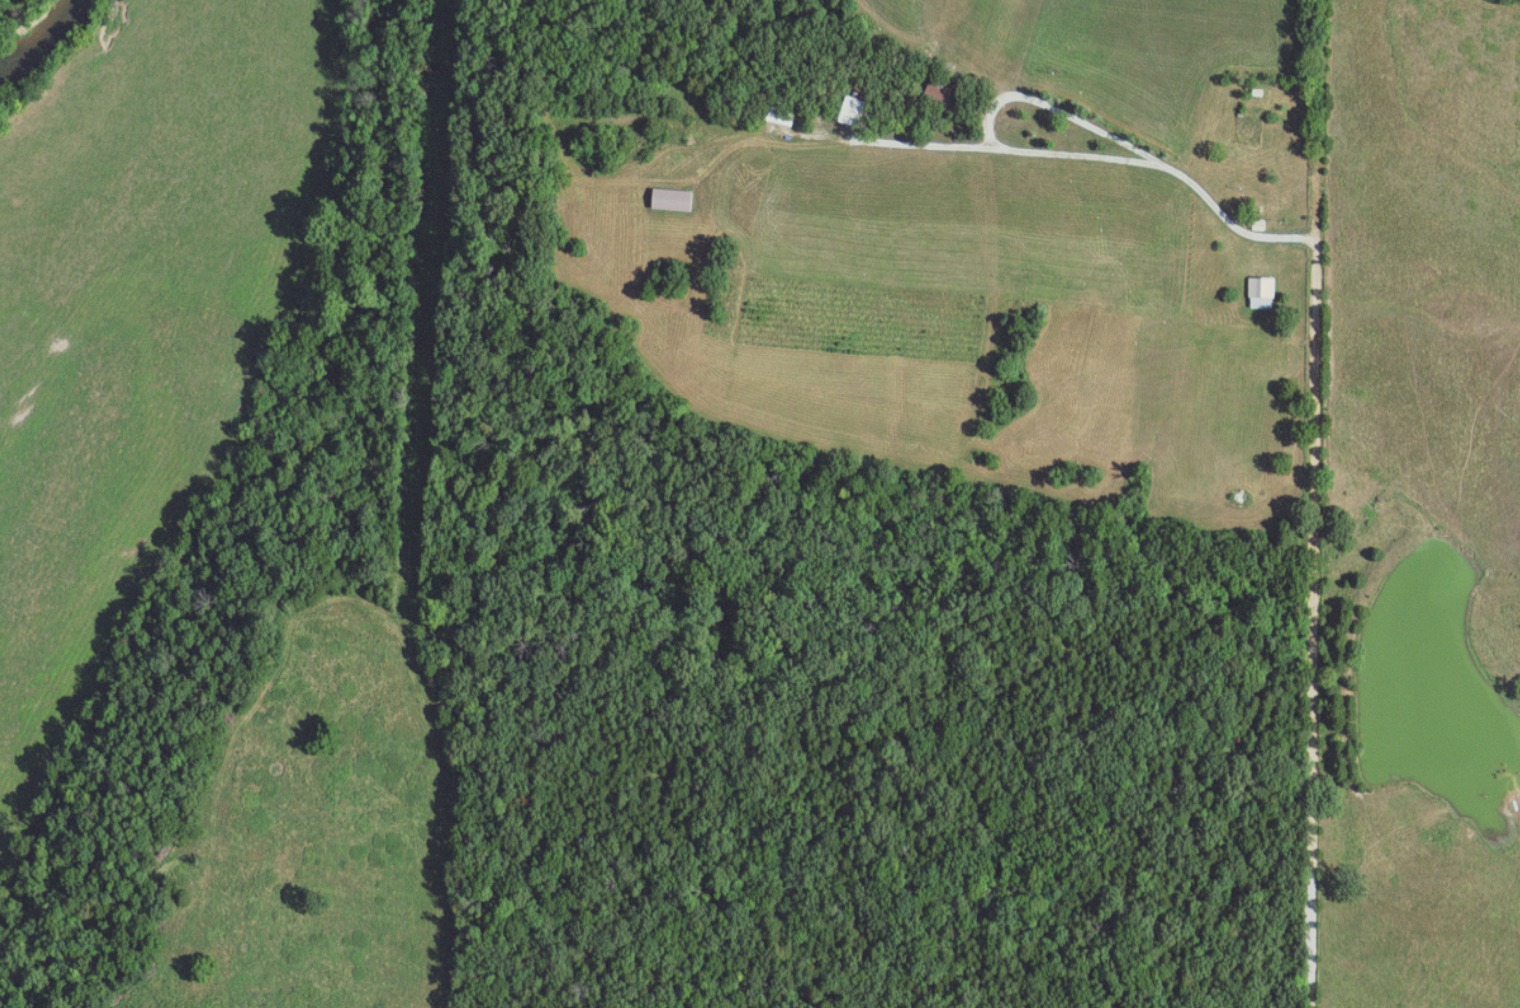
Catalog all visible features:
river: (38, 46)
building: (848, 110)
building: (669, 199)
building: (1260, 293)
road: (1321, 315)

